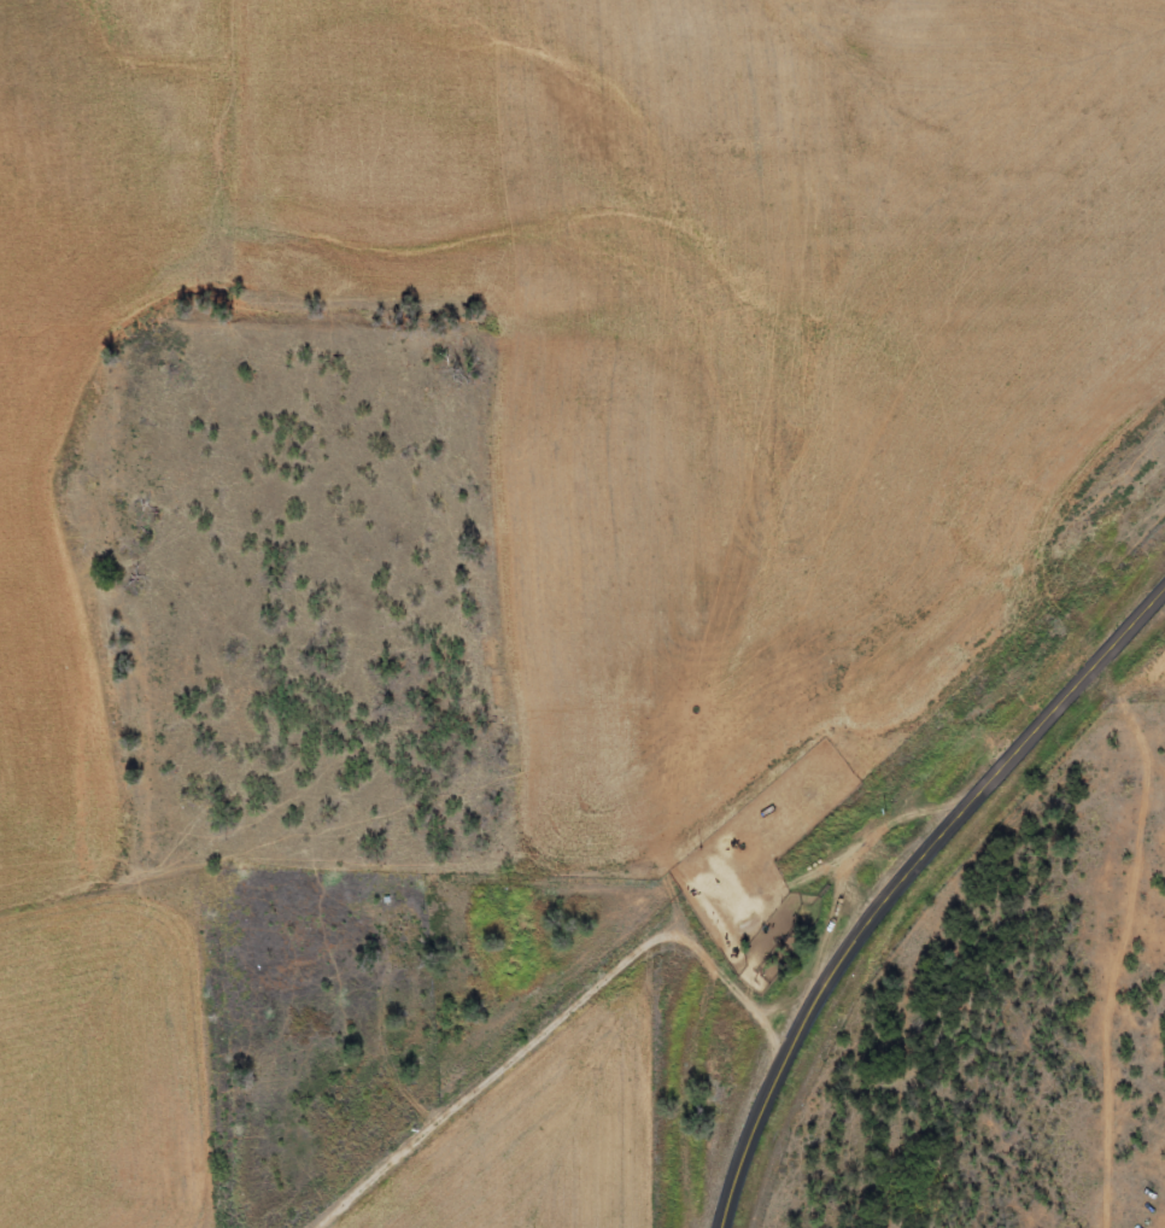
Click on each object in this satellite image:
railway: (747, 836)
road: (905, 885)
road: (698, 932)

